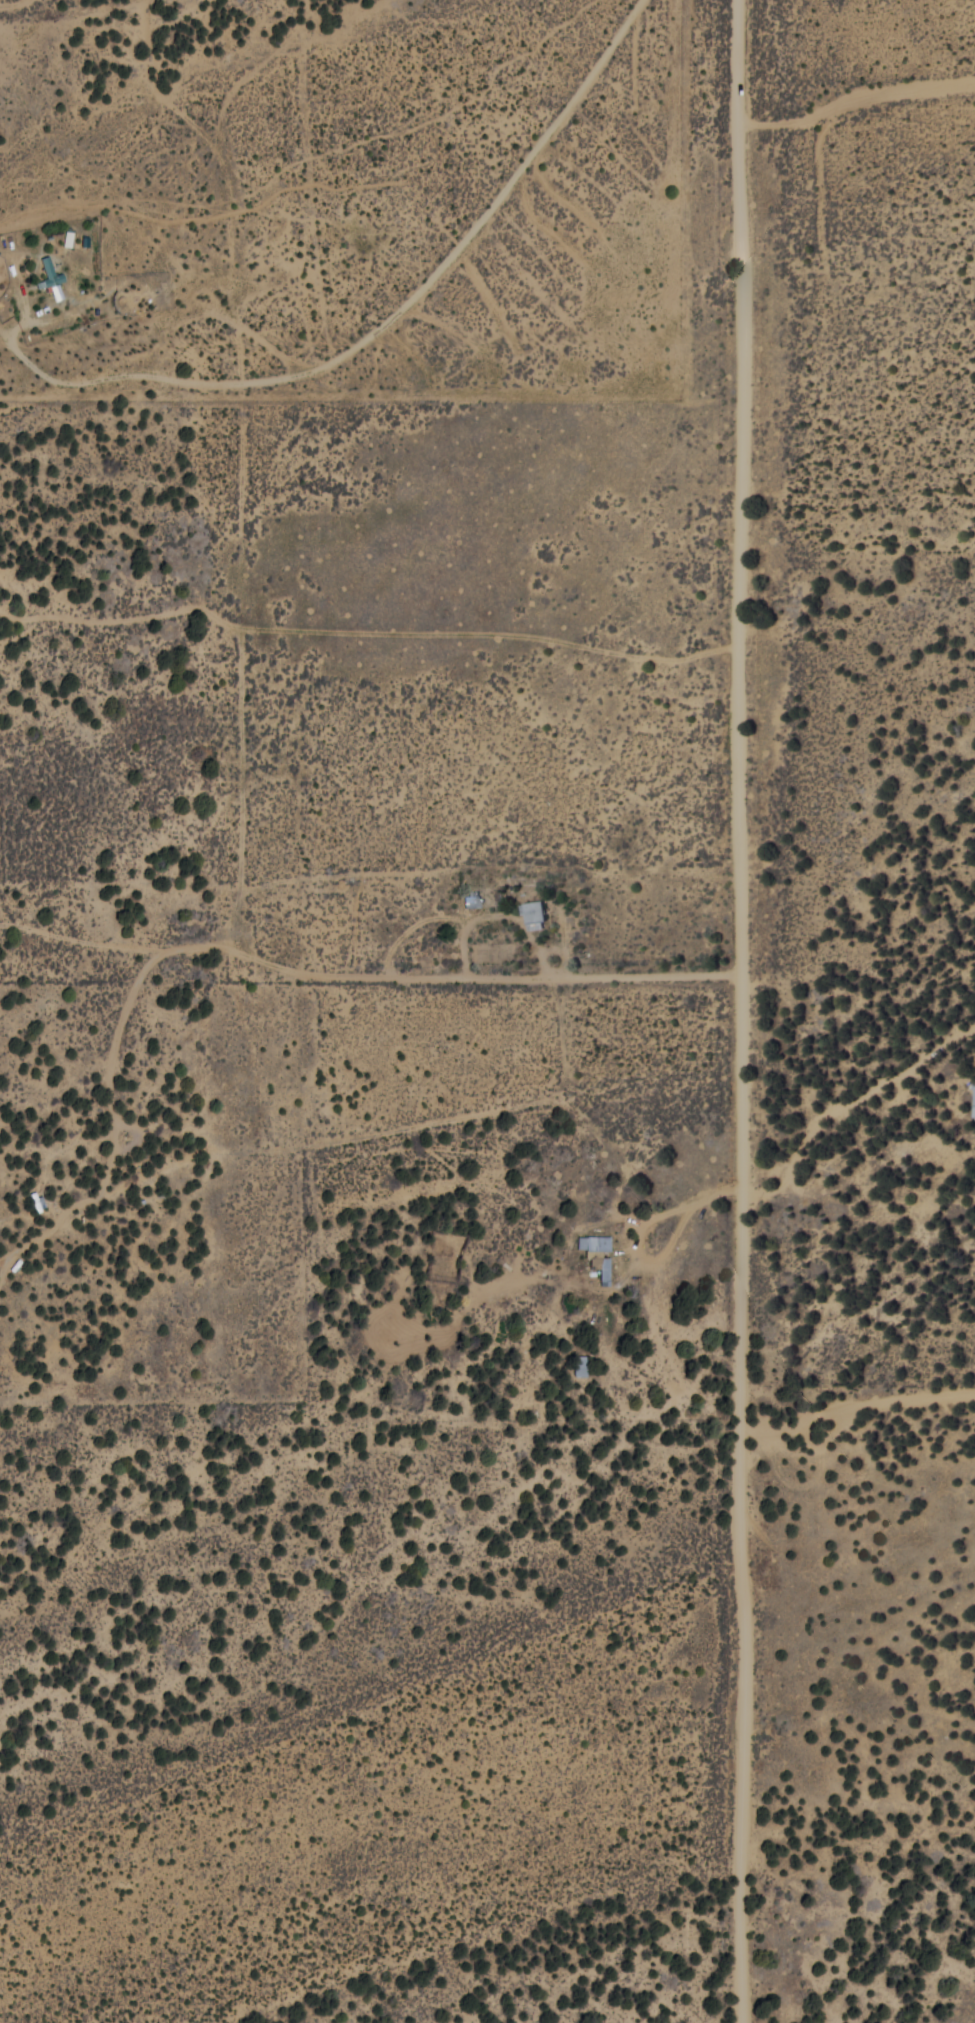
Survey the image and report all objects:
building: (52, 278)
road: (366, 476)
road: (339, 664)
building: (473, 898)
building: (534, 914)
road: (763, 1011)
road: (870, 1056)
building: (973, 1101)
building: (598, 1253)
road: (874, 1356)
building: (580, 1365)

